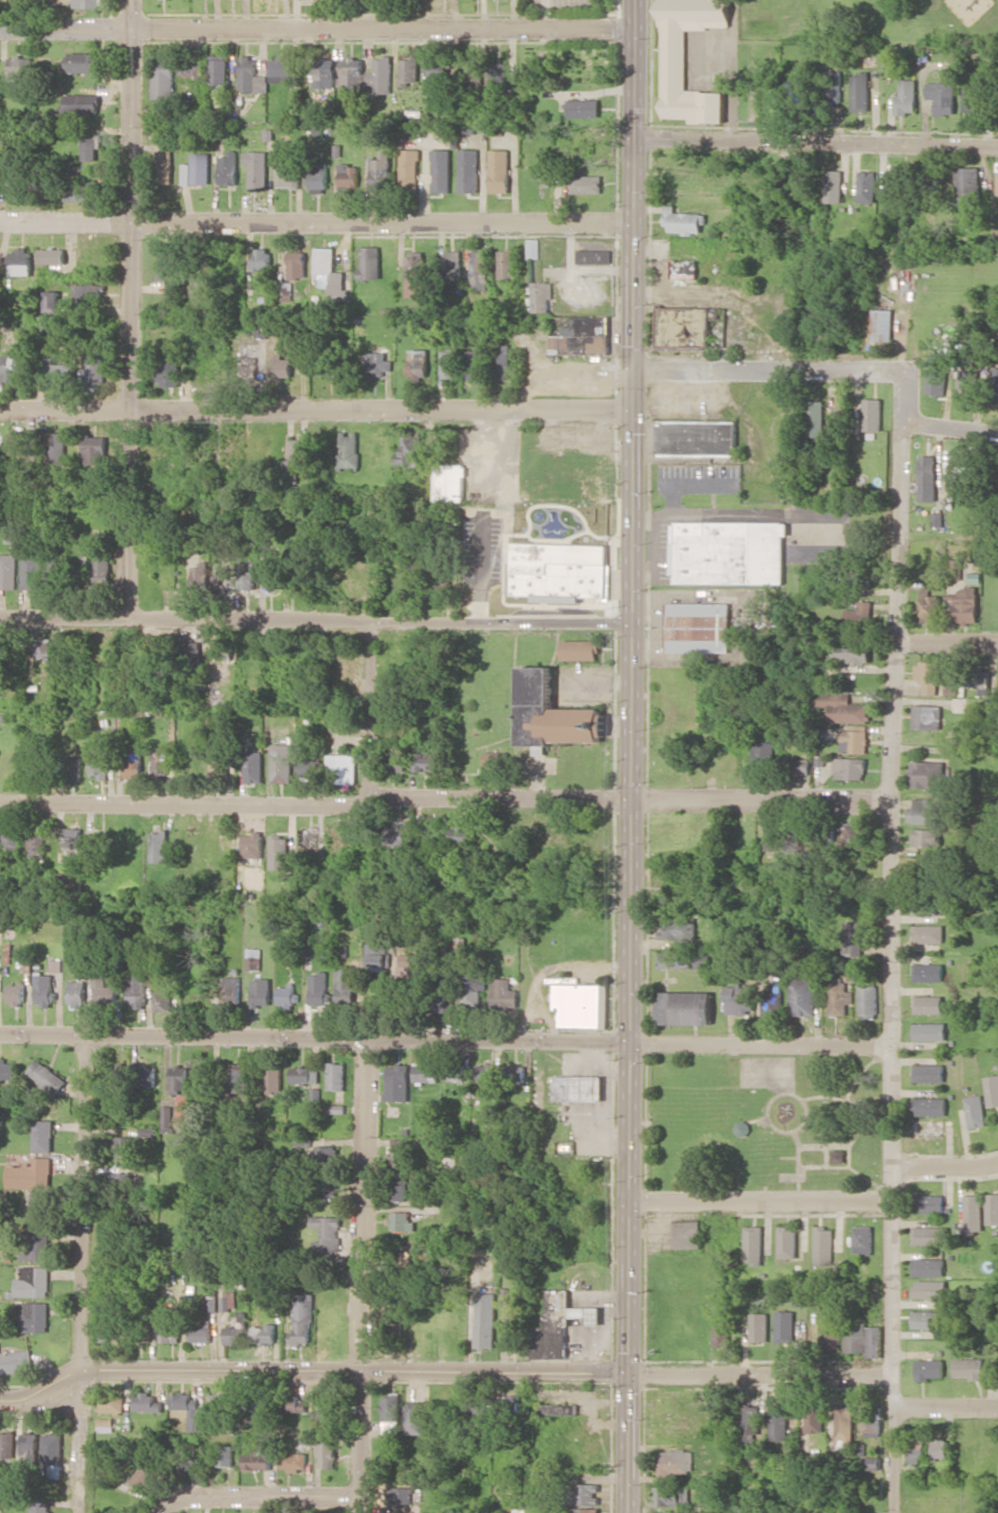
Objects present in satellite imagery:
building: (351, 0)
building: (88, 3)
road: (316, 28)
building: (674, 59)
building: (86, 62)
building: (191, 67)
building: (471, 67)
building: (20, 68)
building: (218, 69)
building: (281, 69)
building: (409, 70)
building: (326, 72)
building: (352, 72)
building: (497, 73)
building: (381, 74)
building: (164, 76)
building: (251, 76)
building: (439, 76)
building: (831, 85)
building: (796, 88)
building: (859, 91)
building: (941, 96)
building: (906, 97)
building: (972, 99)
building: (82, 103)
building: (583, 107)
road: (817, 140)
building: (91, 147)
building: (200, 168)
building: (227, 168)
building: (257, 168)
building: (381, 169)
building: (410, 170)
building: (442, 170)
building: (468, 170)
building: (499, 170)
building: (185, 174)
building: (350, 175)
building: (289, 177)
building: (798, 177)
building: (319, 178)
building: (17, 181)
building: (586, 183)
building: (997, 183)
building: (967, 185)
building: (833, 186)
building: (866, 186)
building: (893, 187)
building: (83, 190)
road: (315, 219)
building: (683, 221)
building: (534, 248)
building: (52, 255)
building: (594, 256)
building: (262, 258)
building: (20, 261)
building: (370, 262)
building: (167, 263)
building: (506, 263)
building: (298, 264)
building: (452, 264)
building: (684, 268)
building: (479, 270)
building: (331, 272)
building: (416, 274)
building: (200, 290)
building: (89, 294)
building: (543, 296)
building: (52, 300)
road: (129, 306)
building: (881, 324)
building: (261, 331)
building: (580, 334)
traffic signals: (633, 344)
building: (247, 355)
building: (503, 361)
building: (377, 363)
building: (418, 363)
building: (450, 363)
building: (475, 364)
building: (281, 365)
building: (15, 366)
building: (329, 367)
building: (94, 369)
traffic signals: (655, 369)
road: (768, 370)
building: (56, 371)
building: (169, 372)
building: (936, 374)
building: (965, 385)
building: (995, 386)
road: (315, 408)
traffic signals: (612, 410)
building: (872, 414)
building: (816, 419)
road: (951, 426)
traffic signals: (632, 433)
building: (697, 438)
building: (15, 442)
building: (55, 448)
building: (94, 449)
building: (348, 449)
building: (412, 450)
building: (293, 462)
building: (928, 477)
building: (451, 482)
building: (485, 517)
building: (728, 552)
building: (103, 565)
building: (954, 568)
building: (559, 569)
building: (52, 570)
building: (7, 571)
building: (31, 571)
building: (200, 574)
building: (272, 574)
building: (222, 575)
building: (246, 575)
building: (416, 579)
building: (441, 585)
building: (930, 605)
building: (966, 605)
building: (859, 615)
road: (315, 620)
building: (698, 627)
road: (948, 638)
building: (42, 647)
building: (191, 648)
building: (223, 649)
building: (580, 649)
building: (854, 652)
building: (928, 676)
building: (979, 677)
building: (843, 708)
road: (372, 709)
building: (554, 714)
building: (928, 717)
building: (854, 741)
building: (396, 748)
building: (763, 754)
road: (632, 756)
building: (496, 759)
building: (133, 762)
building: (158, 762)
building: (282, 762)
building: (426, 762)
building: (99, 763)
building: (219, 763)
building: (196, 764)
building: (254, 766)
building: (800, 766)
building: (310, 767)
building: (73, 768)
building: (344, 768)
building: (850, 768)
building: (928, 773)
road: (447, 797)
building: (924, 811)
building: (396, 834)
building: (773, 834)
building: (462, 835)
building: (792, 836)
building: (856, 836)
building: (72, 837)
building: (306, 837)
building: (926, 837)
building: (12, 839)
building: (36, 842)
building: (253, 844)
building: (101, 845)
building: (158, 845)
building: (279, 851)
building: (928, 906)
building: (677, 928)
building: (927, 933)
building: (852, 937)
road: (891, 942)
building: (461, 944)
building: (377, 956)
building: (253, 958)
building: (702, 960)
building: (676, 961)
building: (55, 965)
building: (410, 965)
building: (928, 971)
building: (346, 984)
building: (136, 986)
building: (44, 989)
building: (227, 990)
building: (260, 991)
building: (471, 991)
building: (503, 991)
building: (105, 992)
building: (16, 993)
building: (77, 993)
building: (286, 995)
building: (802, 996)
building: (838, 996)
building: (739, 1000)
building: (162, 1001)
building: (867, 1001)
building: (443, 1003)
building: (582, 1004)
building: (928, 1004)
building: (686, 1007)
building: (930, 1031)
road: (444, 1041)
building: (8, 1069)
building: (426, 1071)
building: (486, 1071)
building: (455, 1072)
building: (928, 1072)
building: (115, 1073)
building: (515, 1074)
building: (145, 1075)
building: (304, 1075)
building: (47, 1076)
building: (336, 1076)
building: (179, 1077)
building: (237, 1080)
building: (272, 1080)
building: (397, 1082)
building: (578, 1088)
building: (992, 1090)
building: (183, 1105)
building: (929, 1106)
building: (336, 1108)
building: (975, 1111)
building: (167, 1118)
park: (764, 1120)
building: (742, 1128)
building: (43, 1135)
building: (124, 1145)
building: (327, 1153)
building: (403, 1153)
building: (837, 1156)
road: (945, 1168)
building: (31, 1174)
building: (124, 1183)
building: (329, 1185)
building: (399, 1189)
road: (760, 1202)
building: (930, 1203)
building: (41, 1208)
building: (992, 1208)
building: (974, 1213)
building: (403, 1221)
building: (329, 1231)
building: (689, 1234)
building: (931, 1235)
building: (863, 1239)
building: (787, 1242)
building: (754, 1245)
building: (823, 1245)
building: (37, 1246)
building: (419, 1251)
building: (929, 1266)
road: (80, 1272)
road: (362, 1277)
building: (34, 1282)
building: (930, 1288)
building: (230, 1300)
building: (214, 1303)
building: (36, 1316)
building: (926, 1319)
building: (304, 1320)
building: (486, 1320)
building: (559, 1324)
building: (785, 1326)
building: (760, 1327)
building: (171, 1328)
building: (202, 1330)
building: (110, 1331)
building: (268, 1333)
building: (515, 1333)
building: (236, 1334)
building: (832, 1334)
building: (721, 1336)
building: (863, 1336)
building: (16, 1361)
building: (969, 1367)
road: (178, 1368)
building: (930, 1368)
road: (494, 1371)
traffic signals: (627, 1375)
road: (759, 1375)
building: (113, 1401)
building: (292, 1401)
building: (147, 1402)
building: (224, 1402)
building: (508, 1402)
building: (477, 1403)
road: (947, 1405)
building: (259, 1406)
building: (328, 1409)
building: (558, 1409)
building: (194, 1412)
building: (393, 1415)
building: (417, 1417)
building: (874, 1418)
building: (845, 1423)
building: (107, 1424)
building: (750, 1425)
building: (7, 1444)
building: (31, 1446)
building: (939, 1447)
building: (54, 1448)
building: (916, 1449)
building: (261, 1454)
building: (328, 1454)
building: (226, 1455)
building: (294, 1461)
building: (676, 1461)
building: (874, 1463)
building: (146, 1473)
building: (581, 1493)
building: (402, 1494)
road: (253, 1495)
building: (672, 1496)
road: (947, 1501)
building: (41, 1508)
building: (584, 1510)

